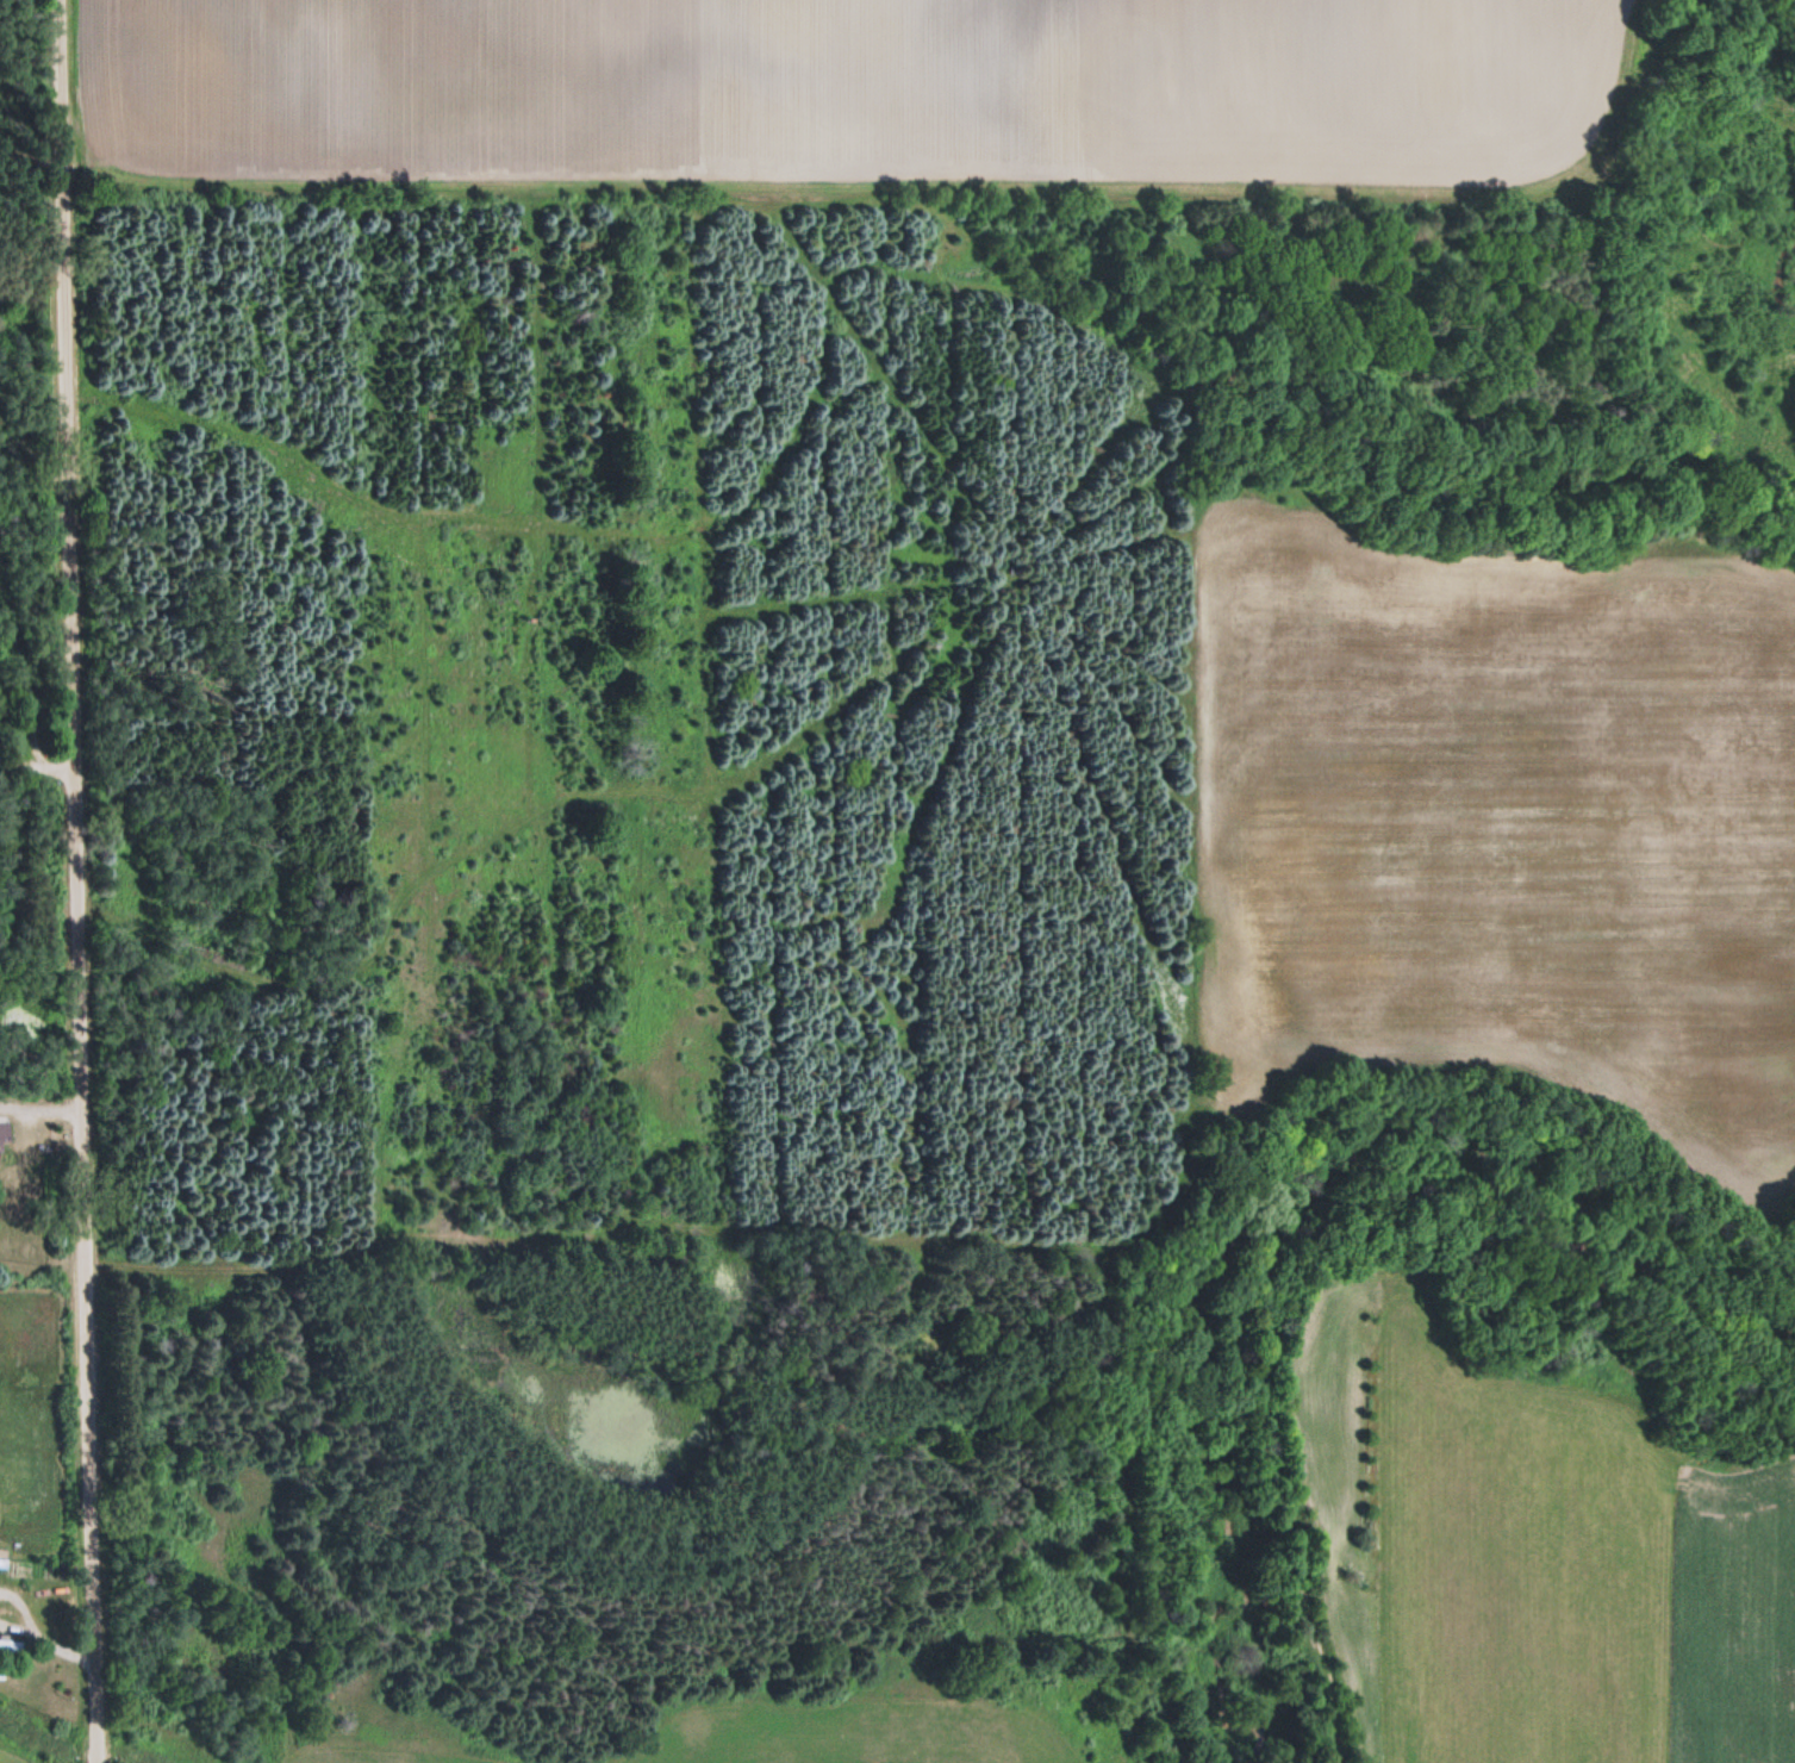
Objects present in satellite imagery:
road: (76, 882)
building: (5, 1135)
building: (11, 1647)

